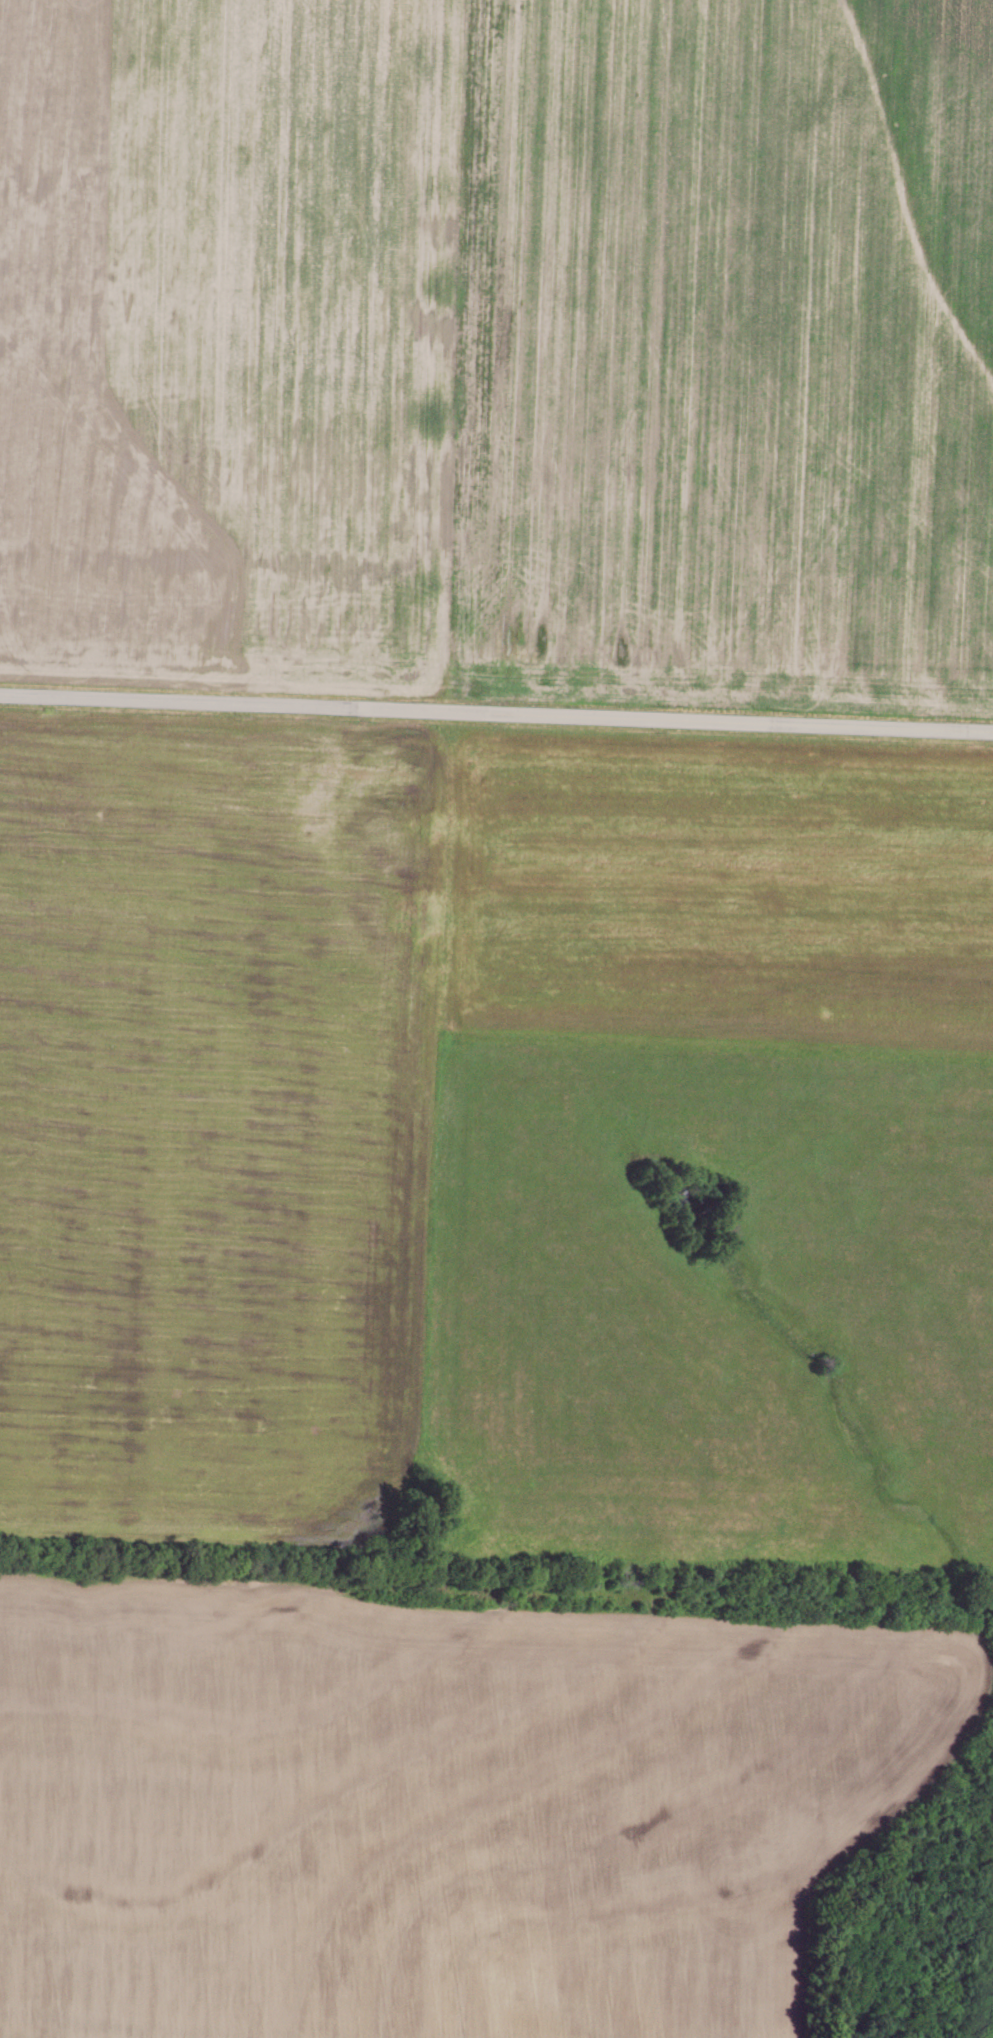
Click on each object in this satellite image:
road: (496, 713)

